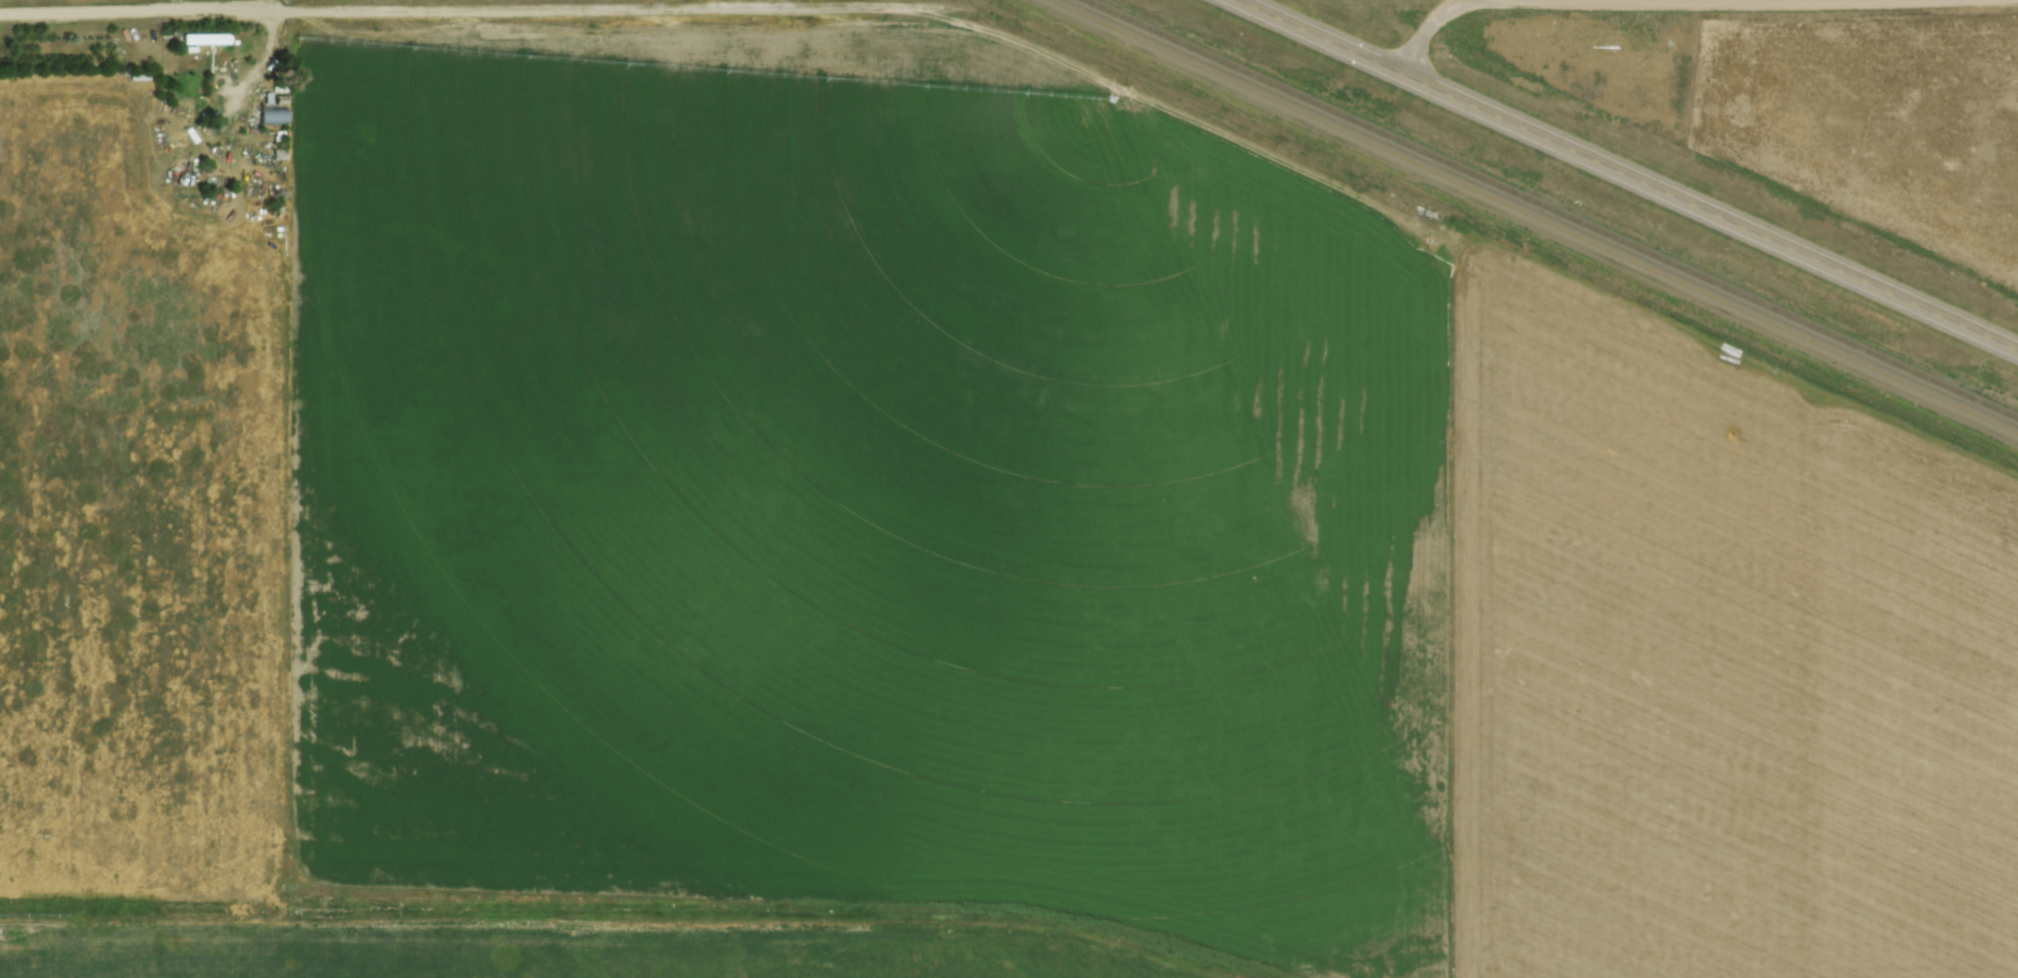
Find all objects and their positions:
road: (446, 12)
road: (1432, 27)
road: (264, 70)
crop: (1873, 119)
road: (1630, 173)
railway: (1554, 207)
railway: (1537, 215)

